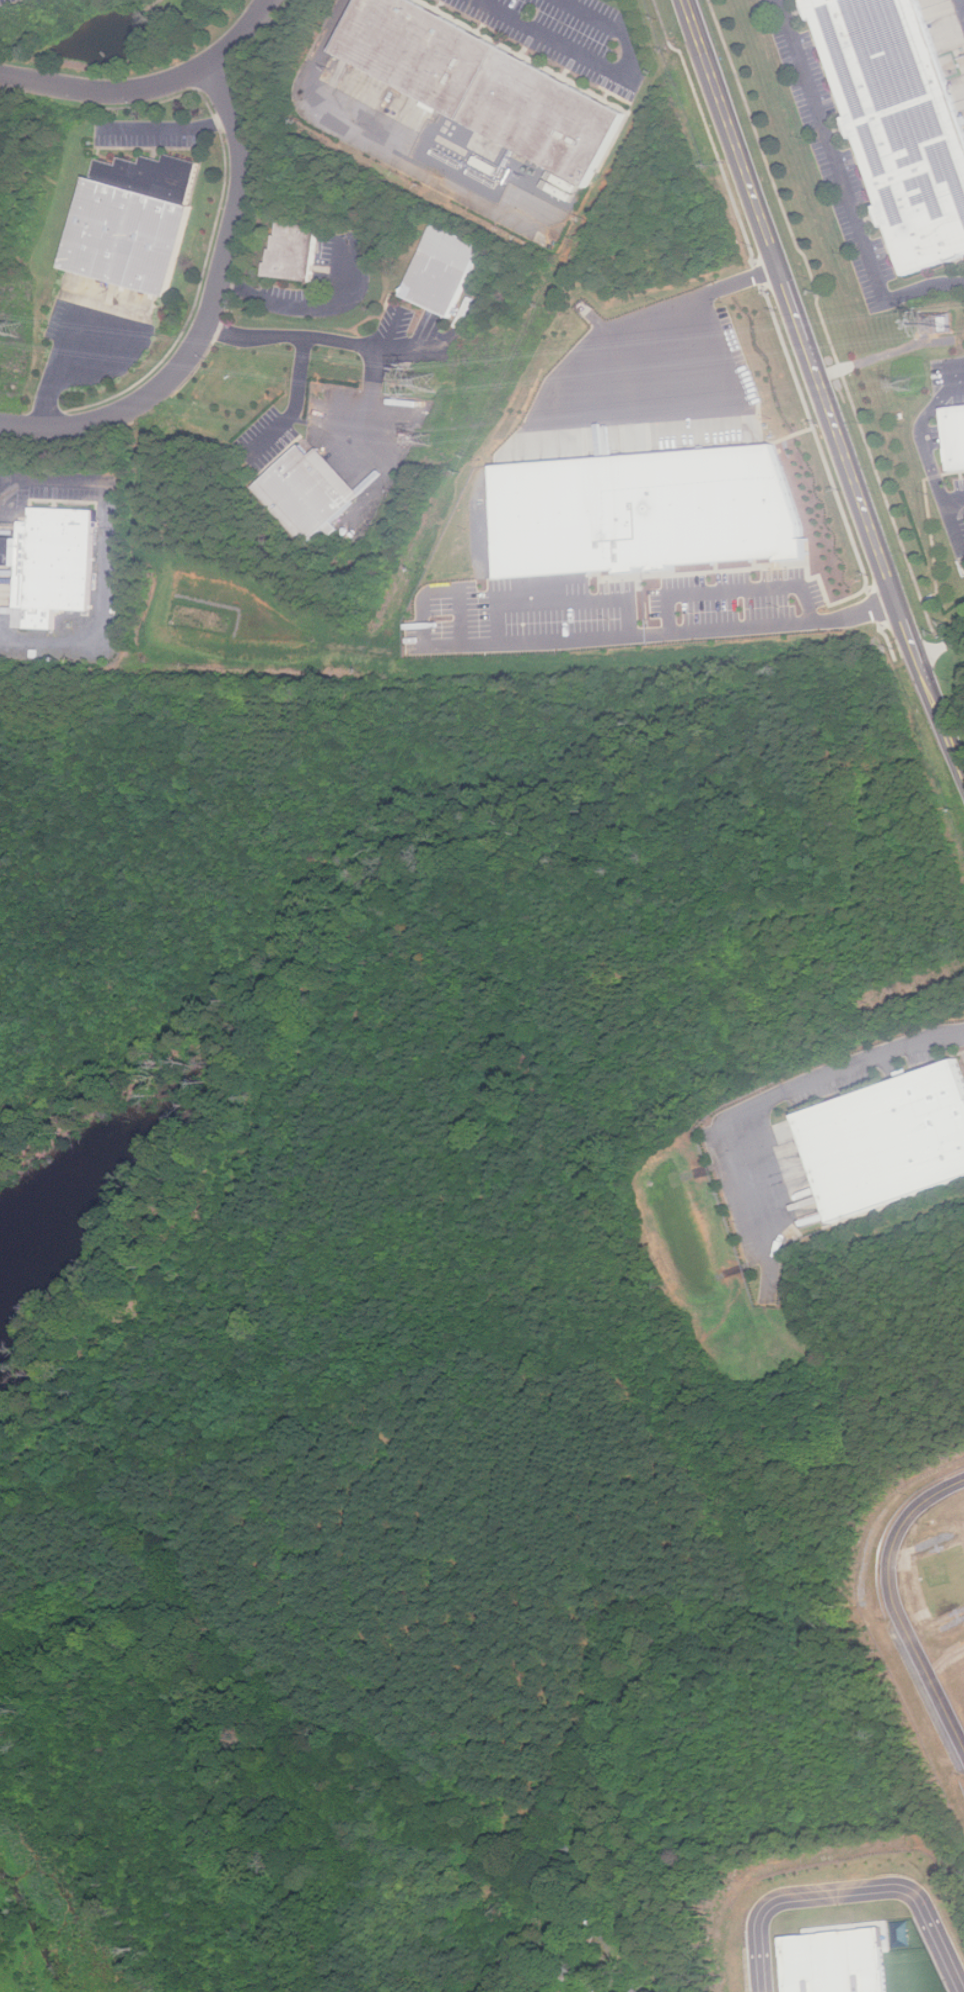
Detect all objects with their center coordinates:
road: (603, 63)
building: (484, 85)
road: (148, 86)
building: (897, 123)
road: (170, 132)
road: (385, 137)
road: (842, 190)
building: (135, 221)
building: (297, 252)
building: (443, 270)
road: (302, 306)
road: (209, 312)
building: (944, 321)
power tower: (949, 324)
power tower: (15, 328)
road: (314, 337)
power tower: (431, 384)
power tower: (909, 386)
road: (826, 389)
road: (296, 407)
road: (552, 413)
road: (920, 431)
building: (952, 438)
power tower: (425, 439)
building: (310, 493)
road: (952, 501)
building: (653, 509)
road: (949, 530)
building: (59, 564)
road: (110, 565)
road: (737, 583)
road: (429, 606)
road: (596, 638)
road: (944, 648)
road: (788, 1090)
building: (888, 1141)
road: (895, 1609)
road: (849, 1891)
building: (834, 1960)
road: (598, 1982)
building: (637, 1990)

